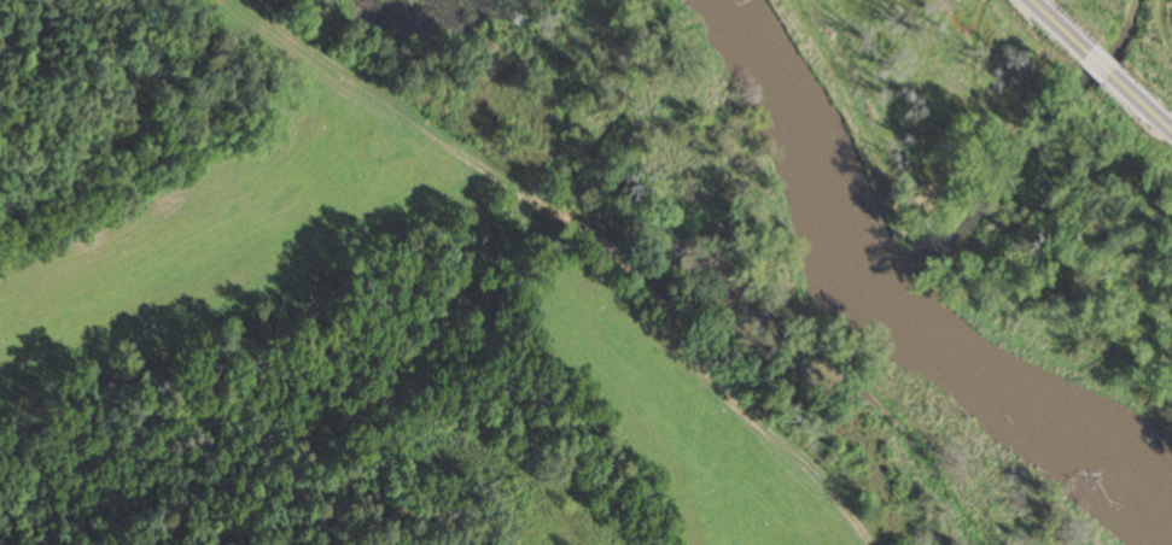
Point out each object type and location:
road: (1054, 24)
road: (1096, 63)
road: (1142, 105)
river: (893, 321)

